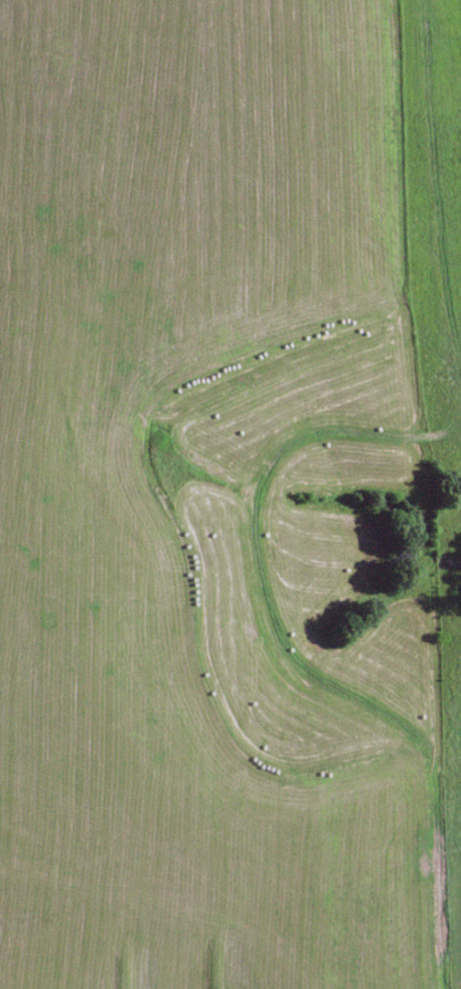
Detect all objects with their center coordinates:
road: (271, 502)

